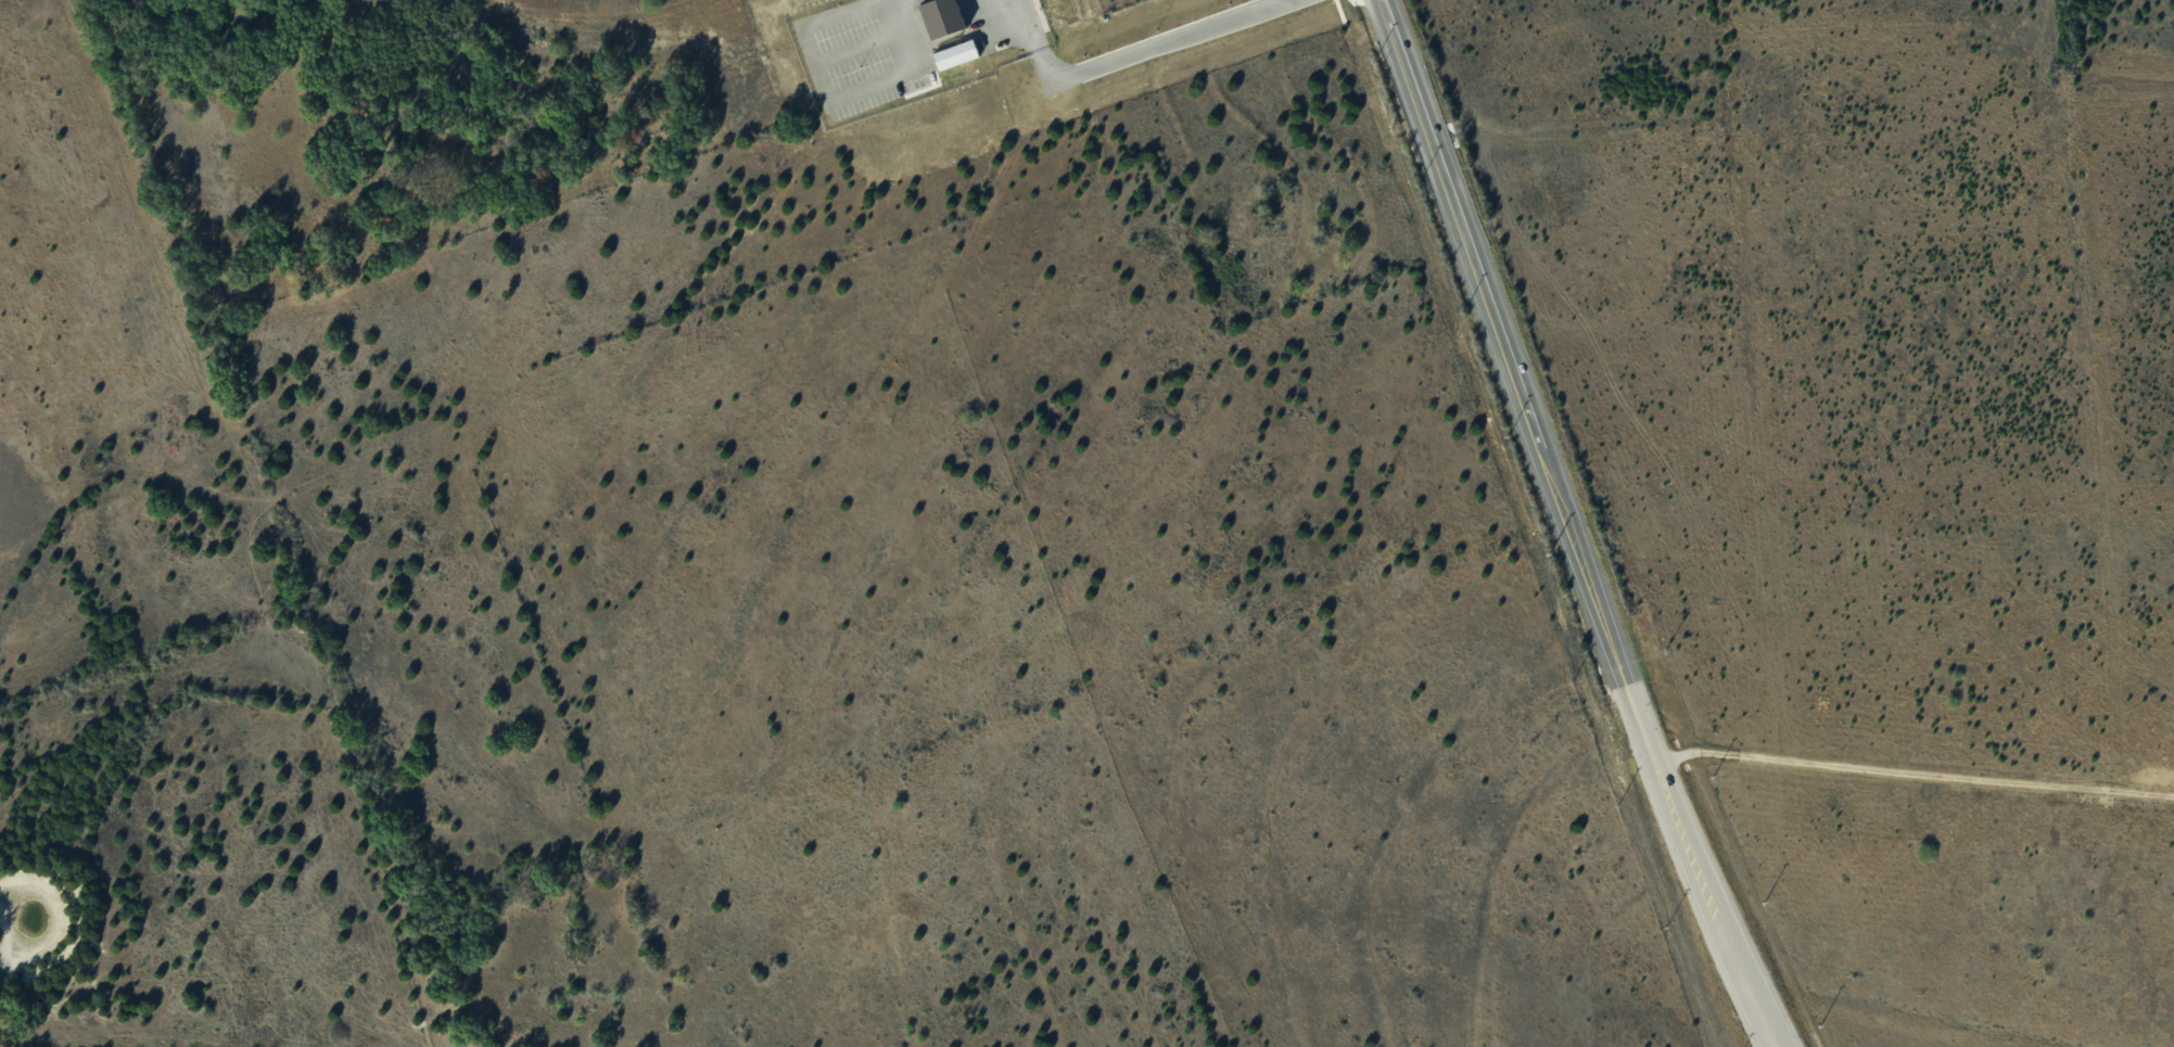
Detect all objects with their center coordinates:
building: (942, 17)
road: (1126, 53)
building: (955, 54)
road: (841, 98)
road: (1574, 525)
road: (1916, 771)

